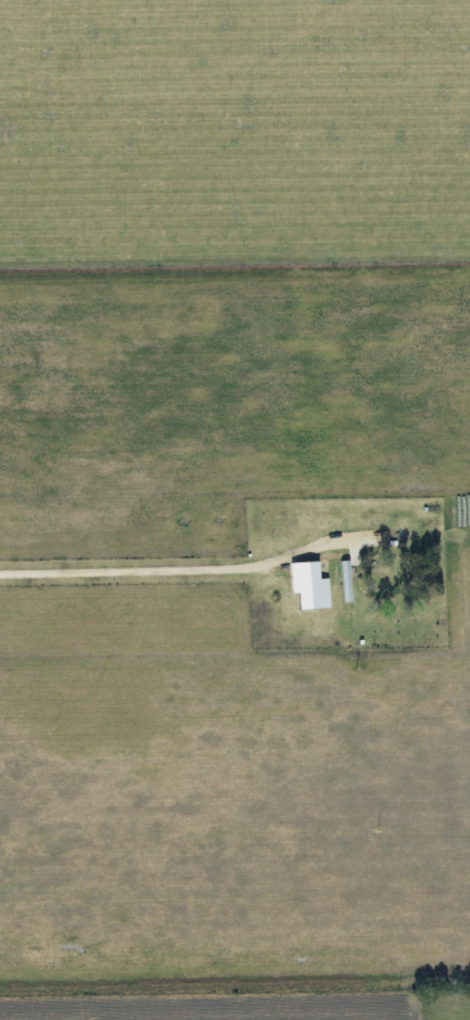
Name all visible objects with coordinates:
road: (189, 568)
building: (338, 581)

